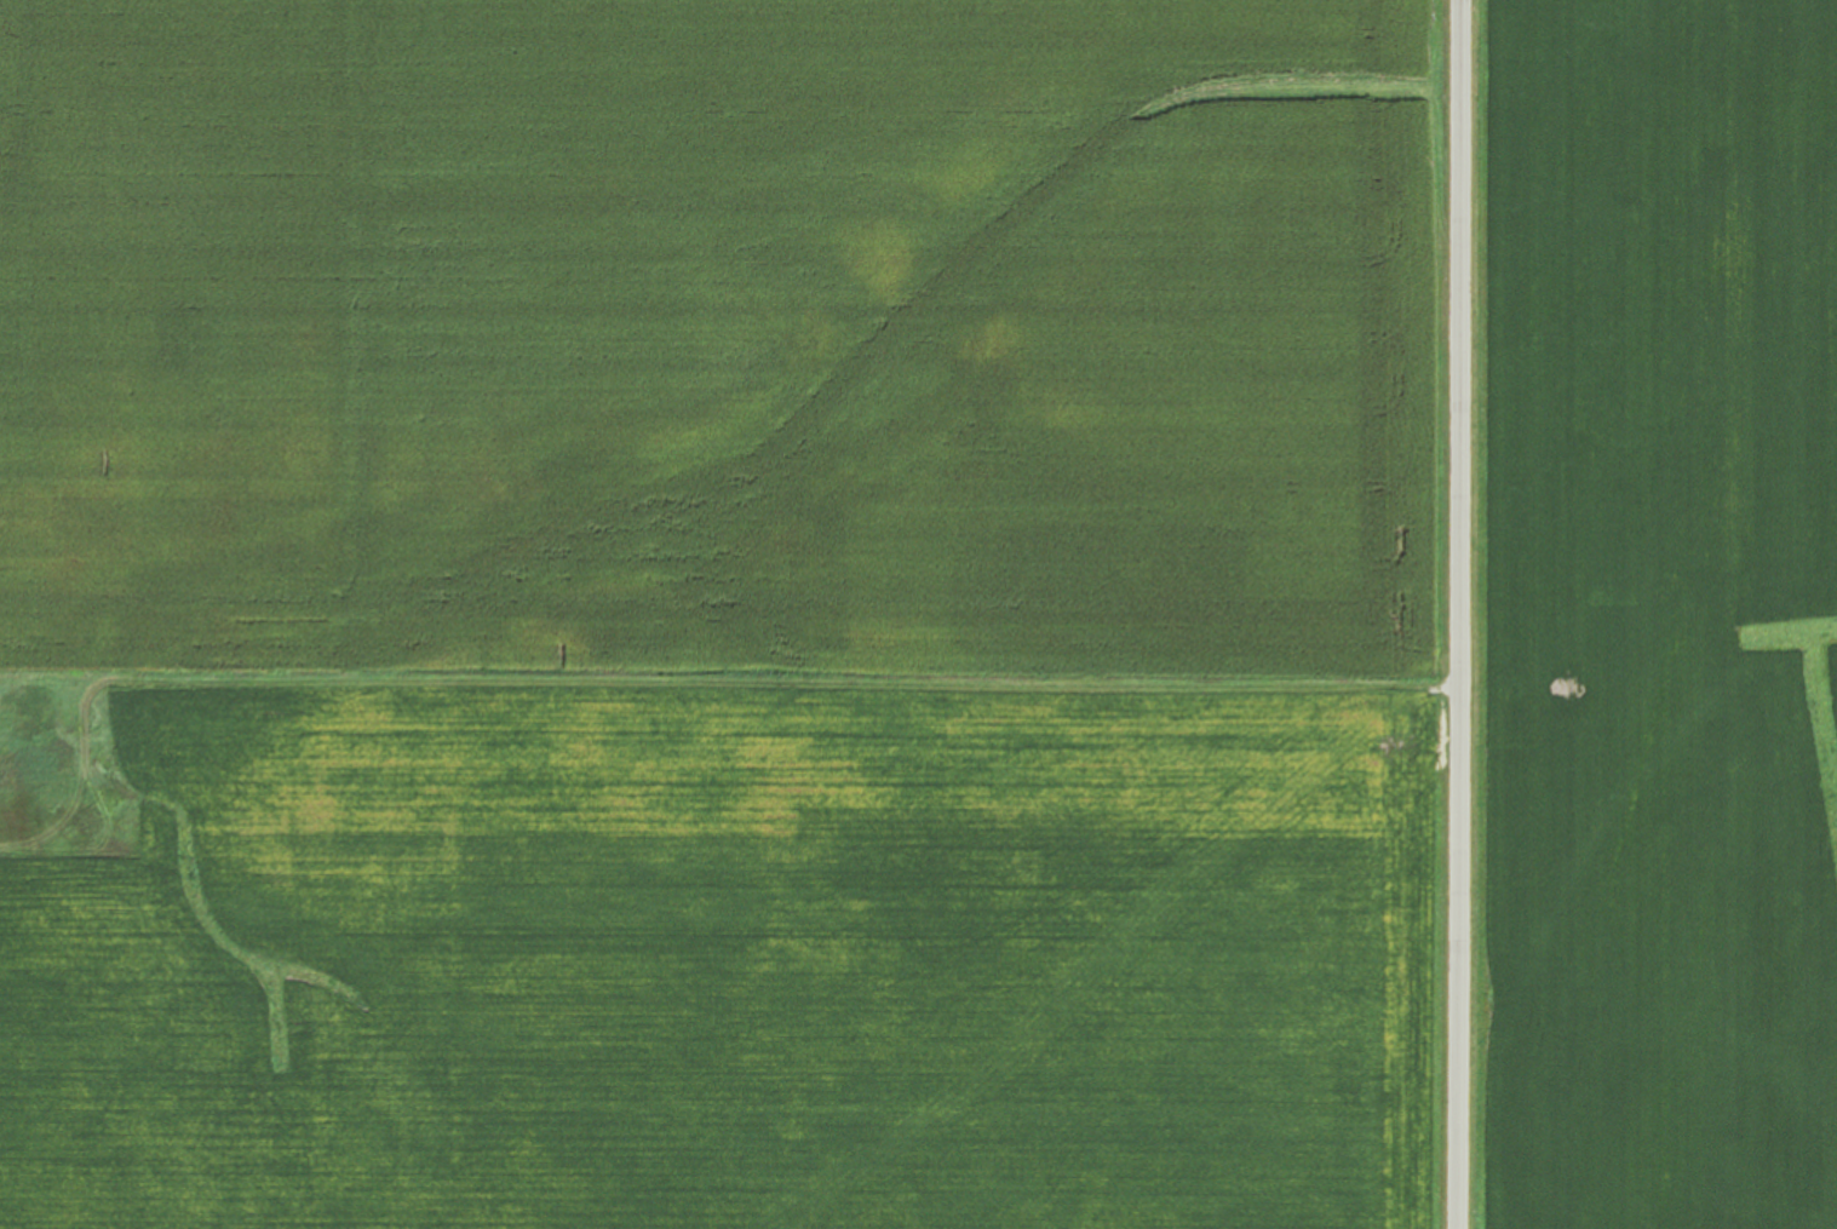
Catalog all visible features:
road: (1458, 614)

